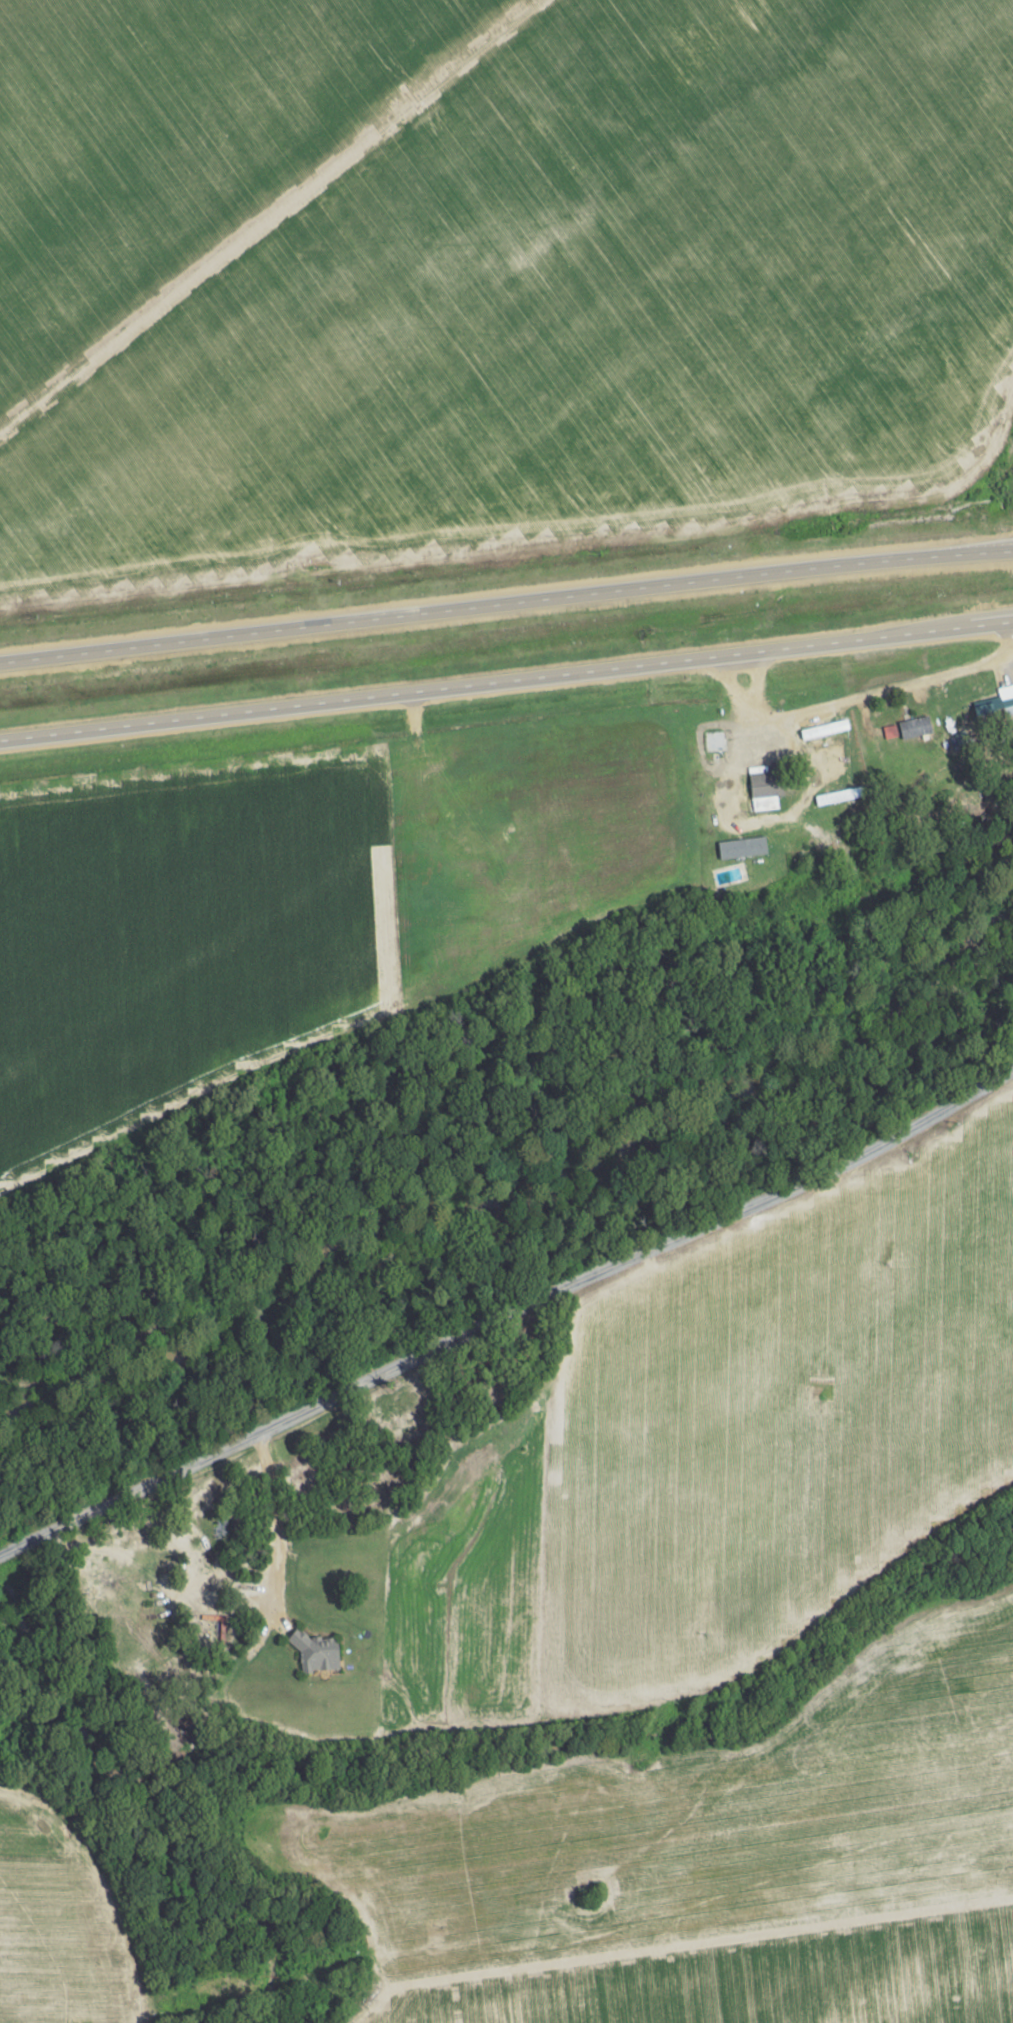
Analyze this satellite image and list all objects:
road: (506, 600)
road: (506, 675)
road: (872, 700)
building: (995, 711)
building: (915, 727)
building: (890, 731)
building: (739, 752)
building: (775, 780)
building: (839, 796)
road: (352, 1036)
road: (509, 1315)

